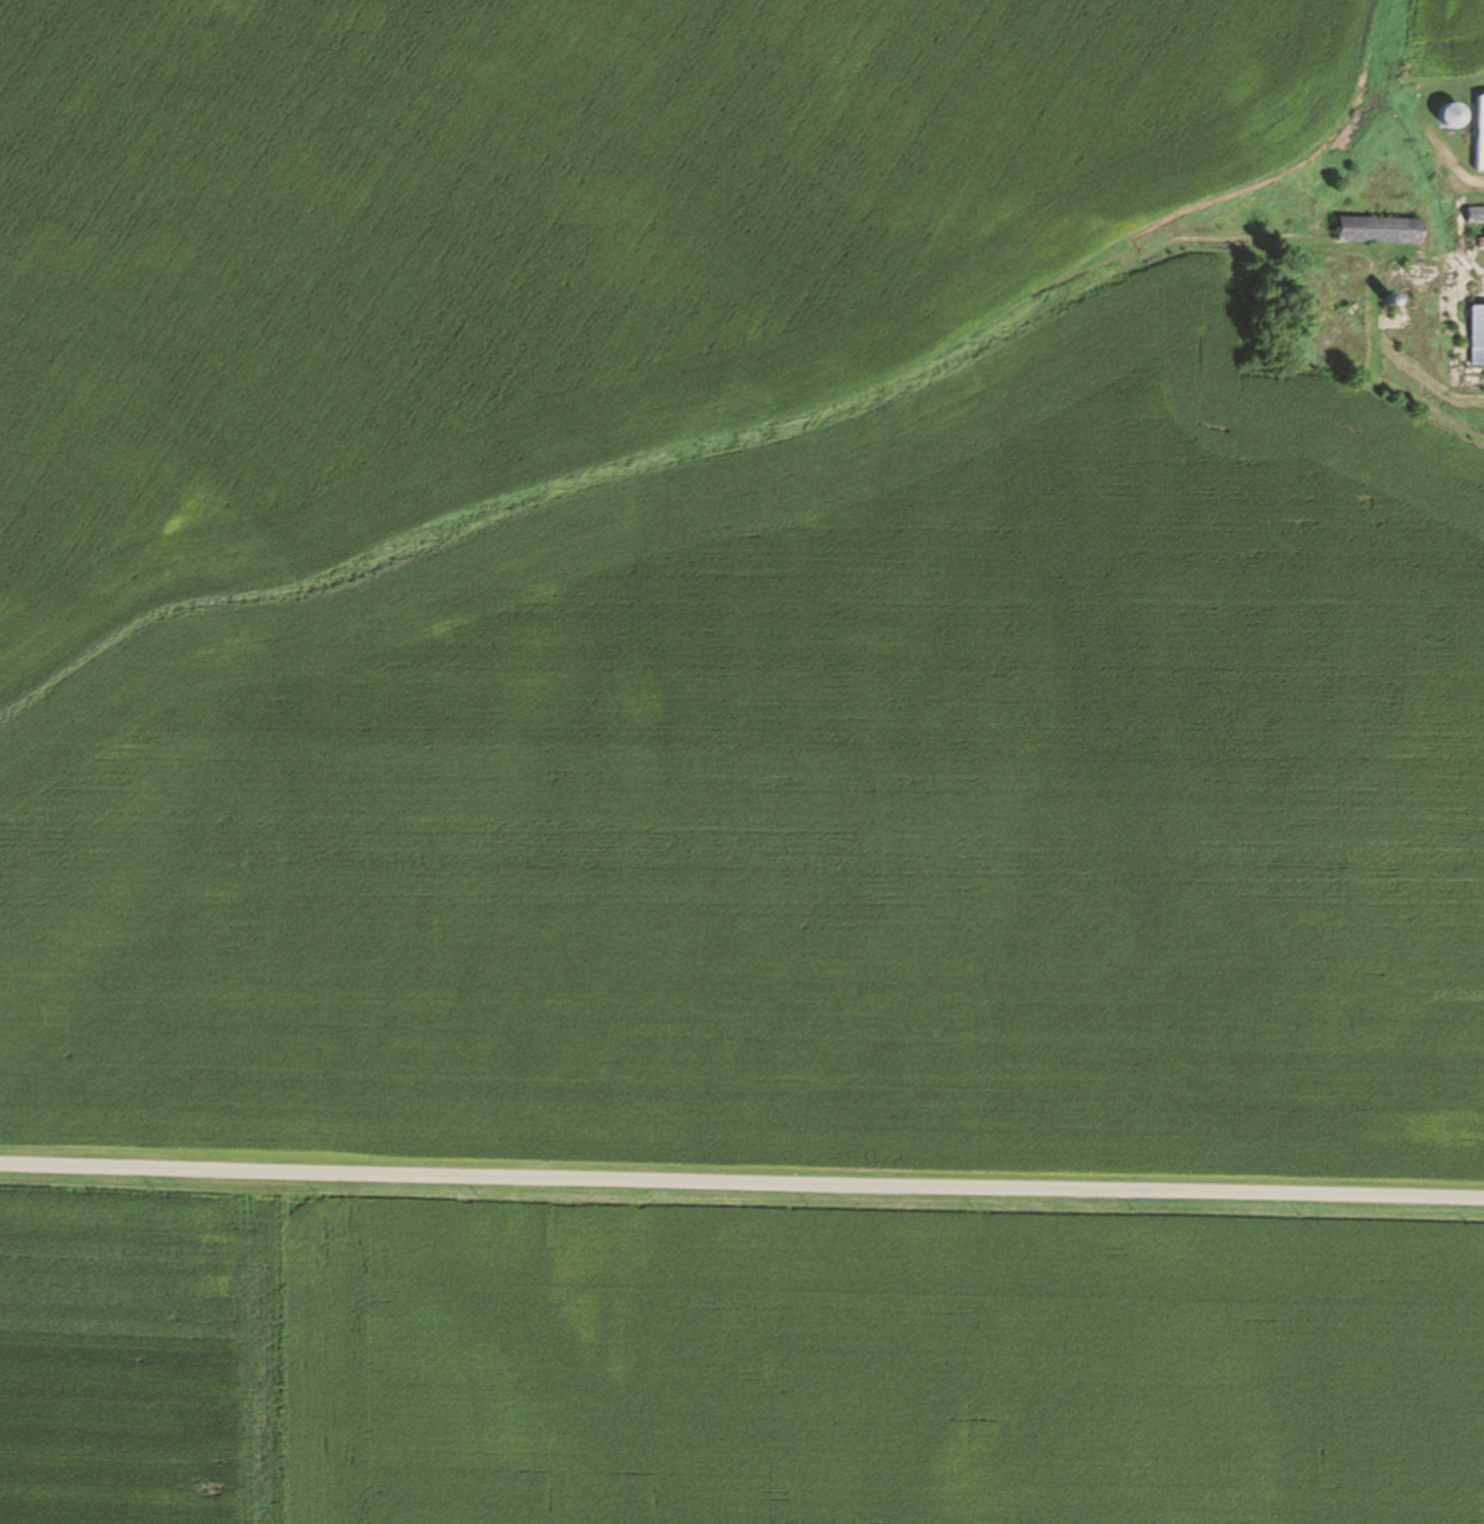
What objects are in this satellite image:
building: (1451, 114)
building: (1479, 132)
building: (1474, 214)
building: (1377, 229)
building: (1476, 334)
road: (741, 1184)

